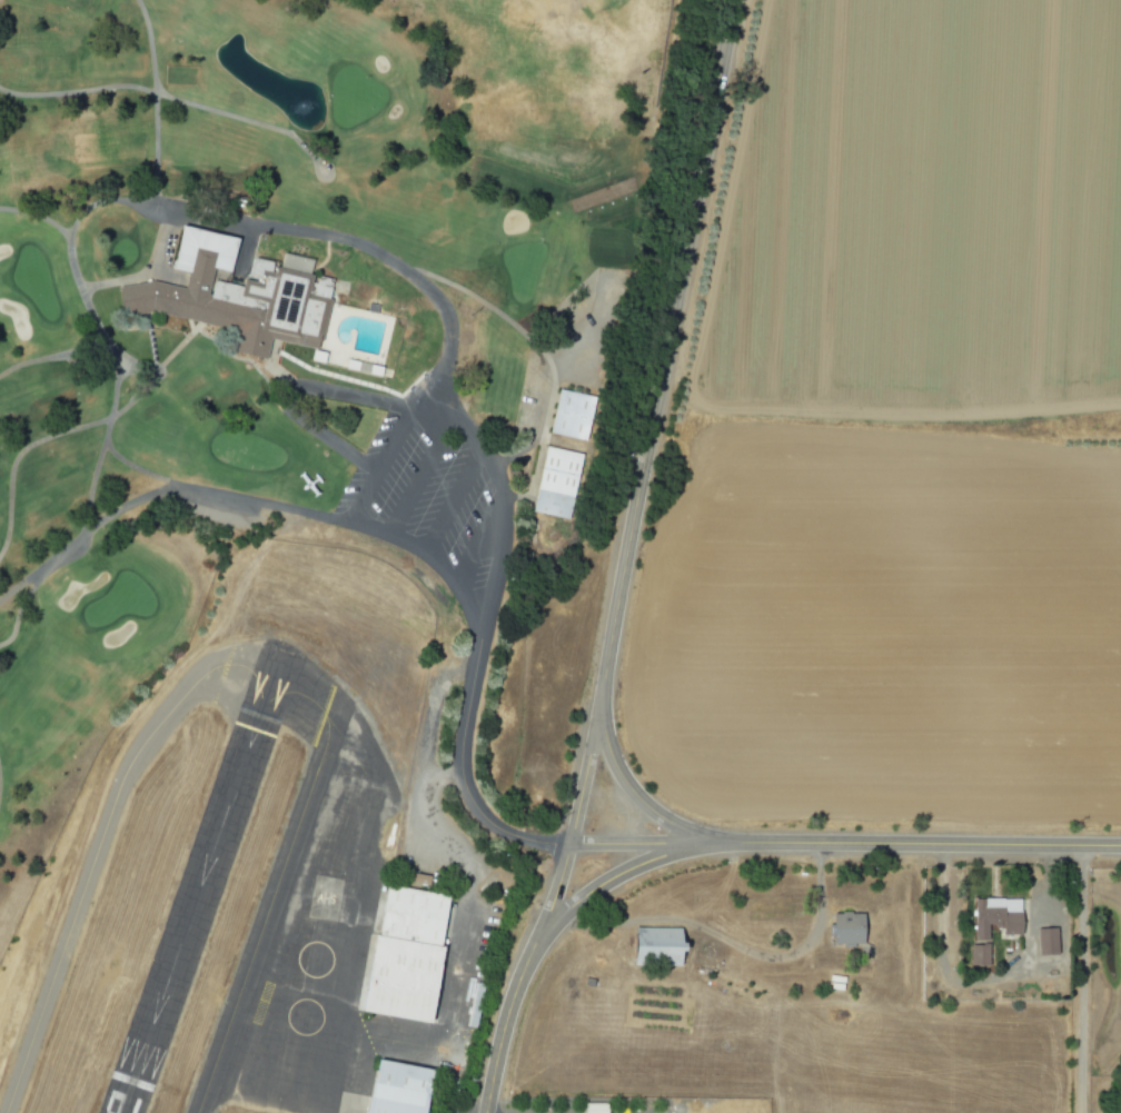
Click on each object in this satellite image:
road: (406, 270)
building: (229, 297)
road: (290, 391)
building: (568, 415)
road: (401, 421)
road: (533, 430)
road: (643, 465)
road: (417, 476)
building: (554, 483)
road: (160, 490)
road: (449, 503)
road: (477, 543)
park: (128, 568)
airport runway: (277, 644)
airport taxiway: (258, 660)
airport taxiway: (377, 747)
road: (464, 773)
road: (634, 791)
road: (637, 843)
road: (913, 843)
airport: (285, 868)
road: (618, 875)
building: (994, 916)
airport hangar: (419, 918)
building: (419, 918)
building: (844, 928)
road: (726, 937)
building: (1044, 941)
building: (653, 945)
building: (976, 954)
road: (1080, 978)
road: (983, 980)
airport hangar: (405, 981)
building: (405, 981)
building: (472, 1004)
road: (506, 1017)
airport hangar: (404, 1090)
building: (404, 1090)
building: (592, 1107)

